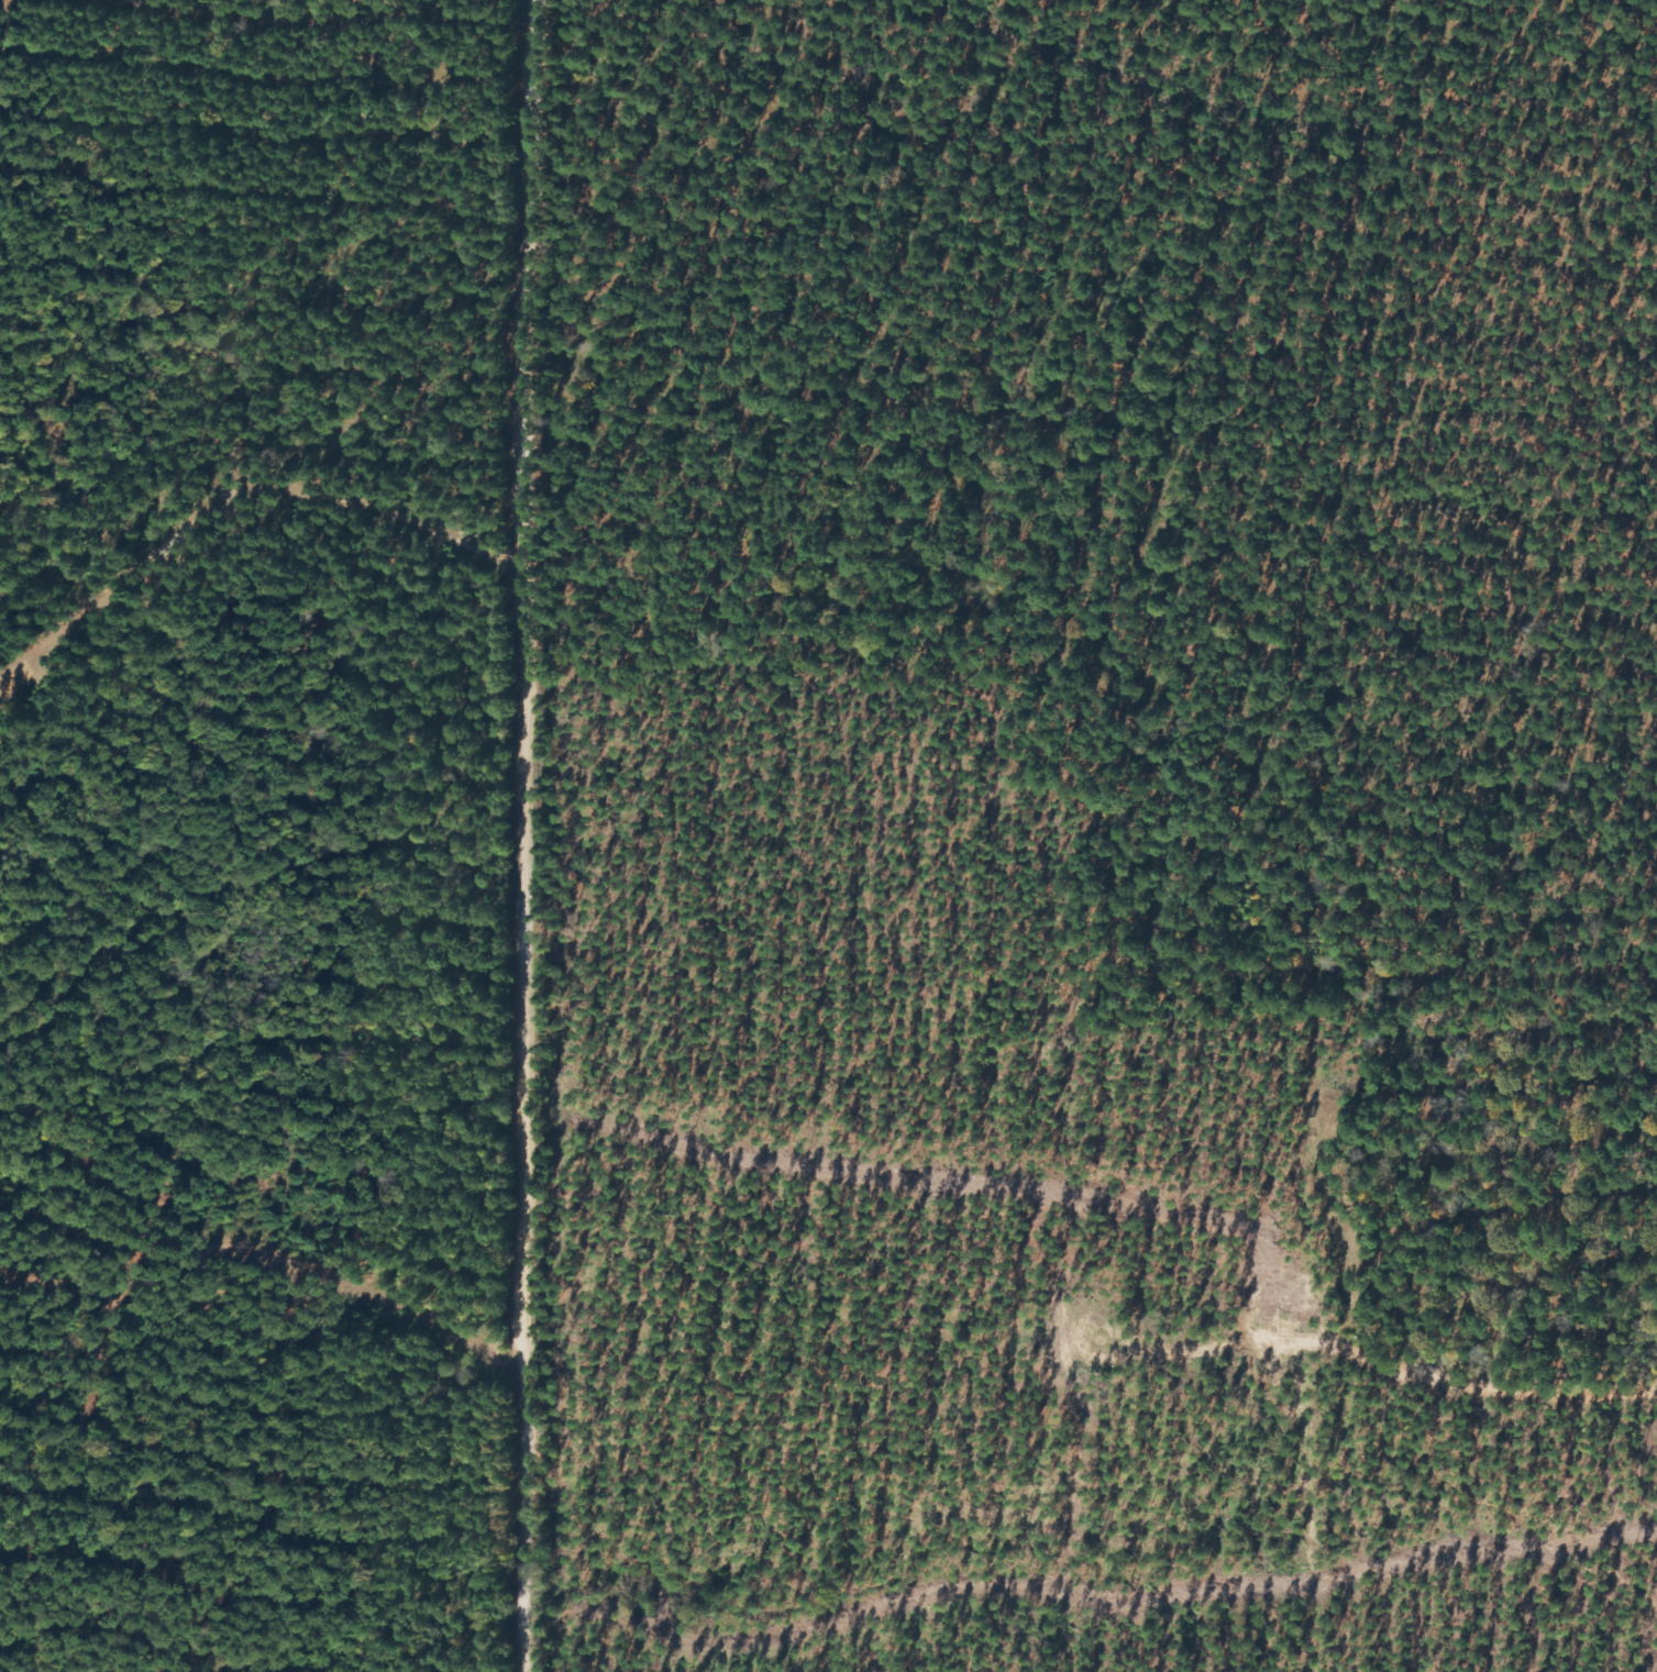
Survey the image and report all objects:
road: (527, 835)

